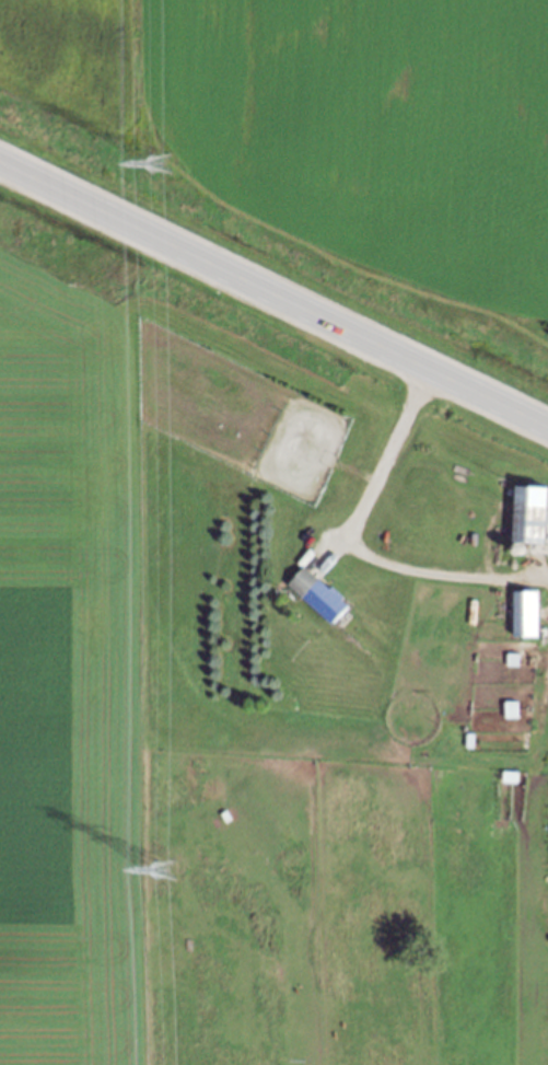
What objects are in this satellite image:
power tower: (159, 162)
road: (273, 294)
building: (527, 512)
building: (315, 593)
building: (522, 612)
building: (508, 708)
power tower: (163, 868)

